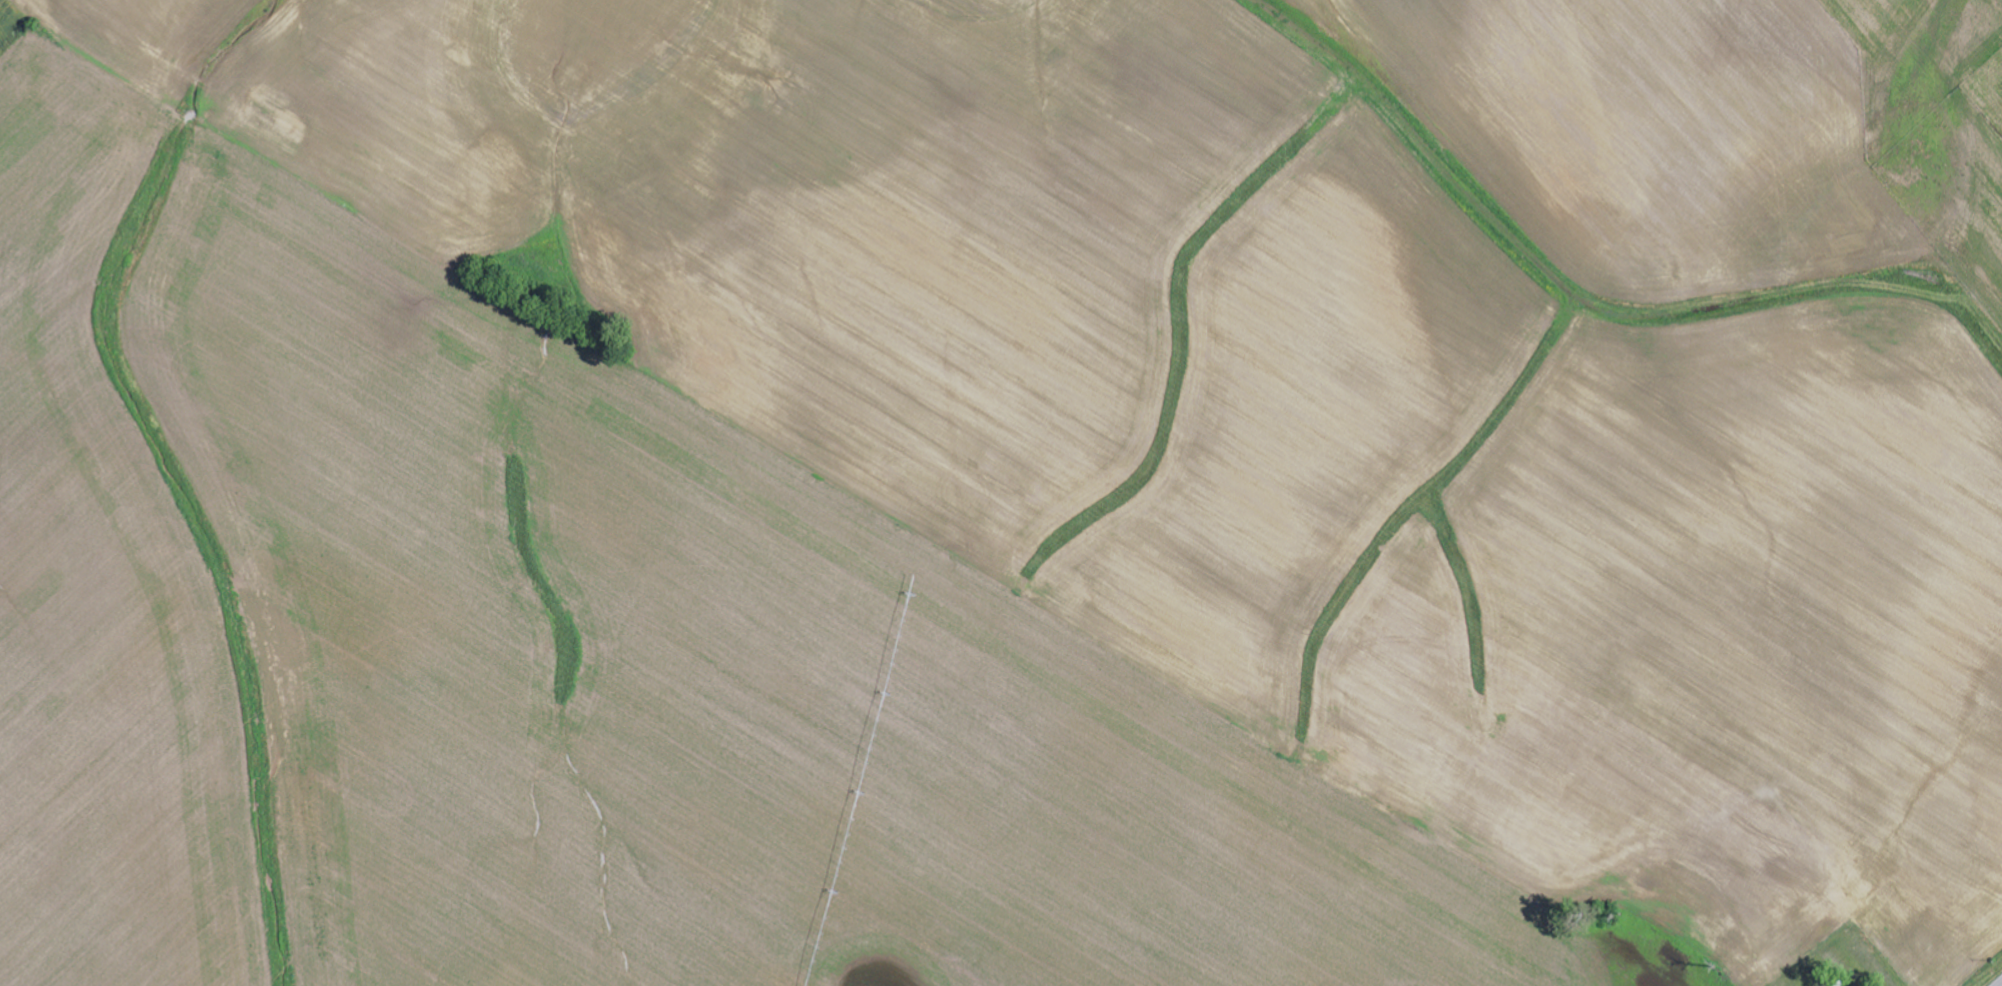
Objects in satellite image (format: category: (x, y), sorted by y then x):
road: (2001, 985)

